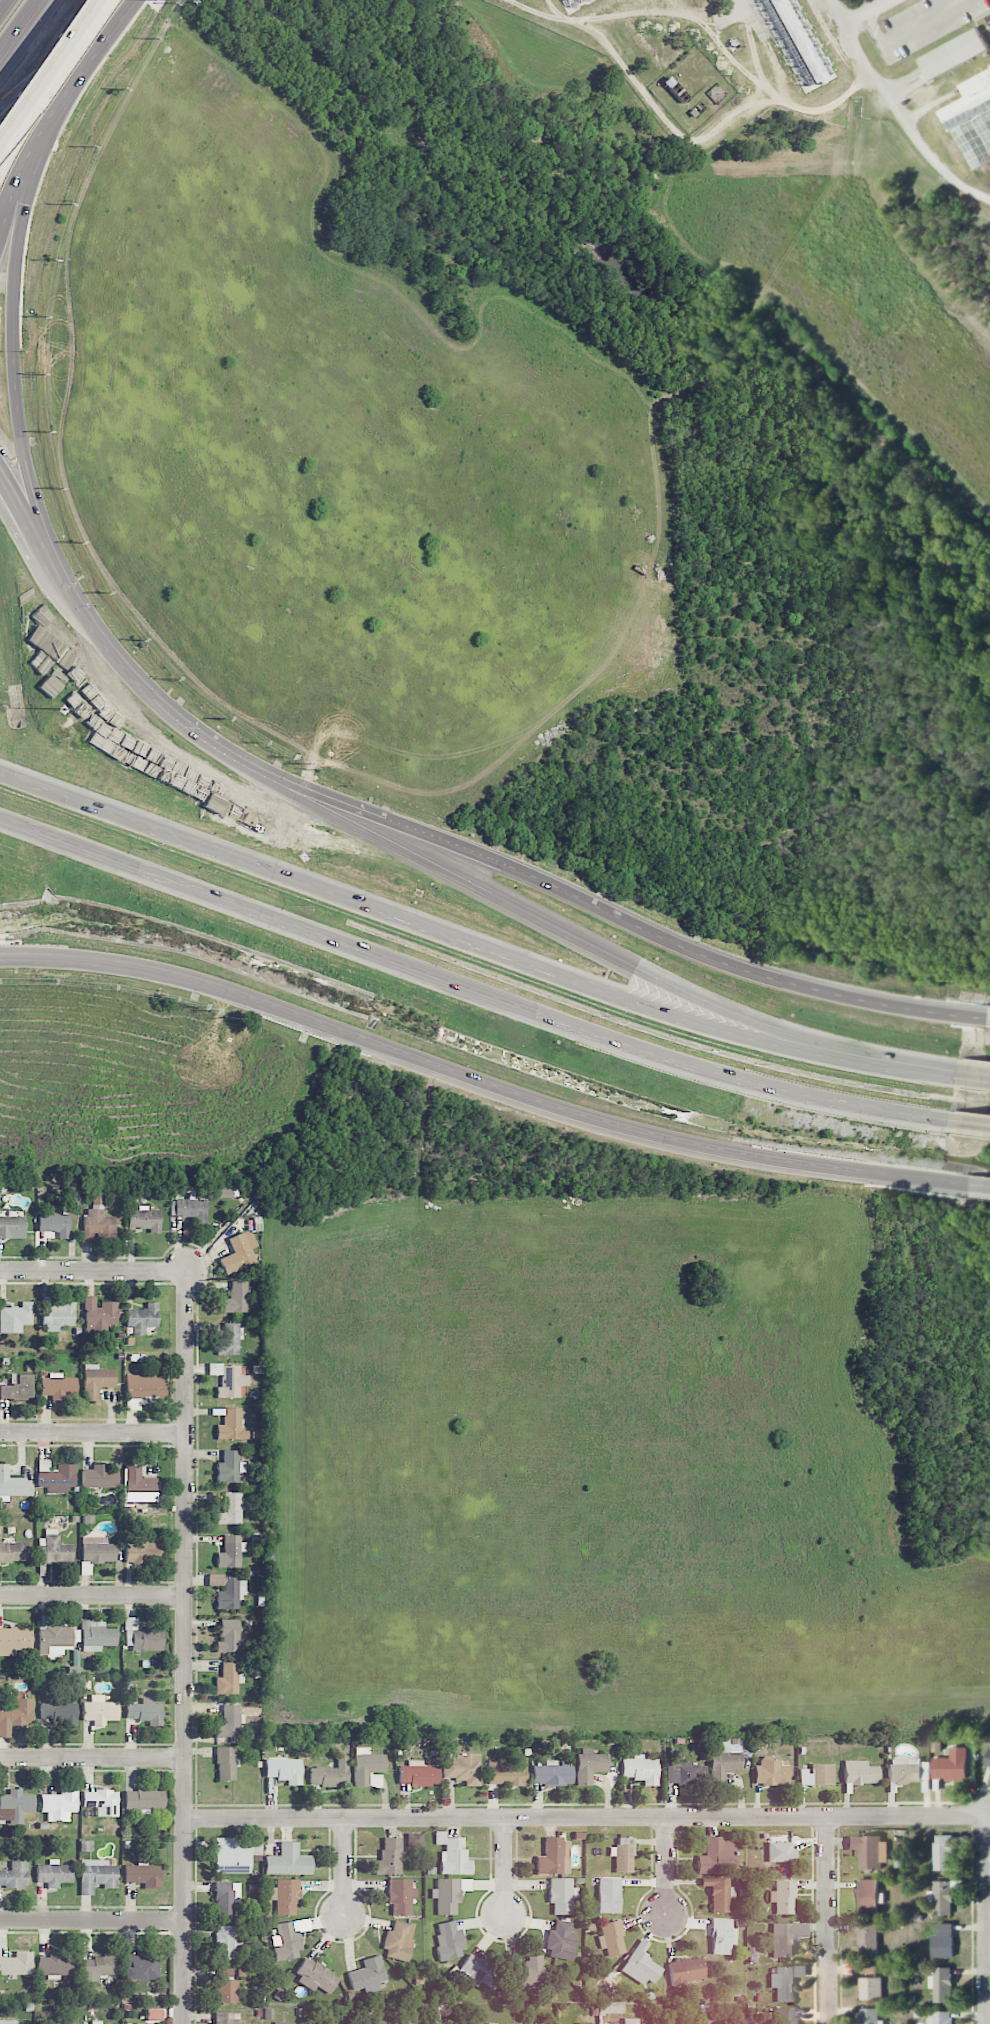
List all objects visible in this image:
road: (1, 1)
building: (572, 2)
street lamp: (155, 4)
road: (597, 10)
road: (687, 11)
road: (867, 11)
road: (558, 12)
road: (731, 15)
building: (989, 17)
road: (694, 19)
parking lot: (922, 25)
road: (908, 28)
road: (21, 29)
building: (796, 40)
road: (779, 54)
building: (953, 54)
road: (43, 59)
building: (969, 98)
road: (54, 110)
road: (898, 113)
road: (679, 133)
building: (974, 134)
road: (17, 243)
road: (28, 473)
road: (12, 502)
road: (109, 647)
road: (623, 922)
road: (448, 936)
road: (581, 941)
road: (467, 990)
road: (989, 1018)
road: (928, 1071)
road: (970, 1074)
road: (479, 1083)
road: (968, 1124)
road: (978, 1189)
building: (224, 1193)
building: (74, 1201)
building: (191, 1209)
building: (144, 1219)
building: (97, 1221)
building: (54, 1222)
building: (12, 1228)
building: (239, 1252)
road: (93, 1269)
building: (236, 1298)
building: (99, 1314)
building: (57, 1315)
building: (15, 1317)
building: (142, 1318)
building: (229, 1340)
building: (228, 1379)
building: (96, 1380)
building: (58, 1386)
building: (17, 1387)
building: (143, 1389)
building: (231, 1425)
road: (93, 1432)
building: (230, 1467)
building: (56, 1477)
building: (99, 1477)
building: (12, 1484)
building: (139, 1485)
building: (230, 1509)
building: (53, 1549)
building: (142, 1550)
building: (13, 1552)
building: (230, 1552)
building: (227, 1590)
road: (93, 1594)
building: (141, 1635)
building: (96, 1636)
building: (229, 1636)
building: (14, 1640)
building: (54, 1641)
road: (185, 1646)
building: (228, 1679)
building: (99, 1710)
building: (144, 1711)
building: (59, 1712)
building: (15, 1715)
building: (230, 1721)
road: (92, 1756)
building: (724, 1757)
building: (988, 1760)
building: (226, 1763)
building: (589, 1765)
building: (954, 1765)
building: (368, 1767)
building: (462, 1768)
building: (639, 1769)
building: (284, 1770)
building: (506, 1771)
building: (904, 1771)
building: (684, 1772)
building: (771, 1772)
building: (859, 1772)
building: (328, 1773)
building: (418, 1774)
building: (551, 1774)
building: (816, 1774)
building: (144, 1799)
building: (101, 1802)
building: (59, 1804)
building: (15, 1805)
road: (587, 1817)
building: (415, 1840)
building: (780, 1851)
building: (870, 1851)
building: (942, 1853)
building: (453, 1854)
building: (622, 1855)
building: (233, 1856)
building: (717, 1856)
building: (389, 1857)
building: (554, 1857)
building: (288, 1861)
road: (667, 1865)
road: (506, 1867)
road: (344, 1868)
building: (53, 1873)
building: (14, 1874)
building: (143, 1874)
building: (96, 1875)
building: (718, 1893)
building: (449, 1894)
building: (401, 1895)
building: (561, 1895)
building: (608, 1895)
building: (285, 1896)
building: (868, 1896)
building: (783, 1897)
building: (226, 1898)
building: (942, 1898)
road: (92, 1919)
road: (988, 1919)
road: (829, 1920)
building: (722, 1936)
building: (611, 1938)
building: (786, 1938)
building: (867, 1939)
building: (398, 1940)
building: (448, 1940)
building: (226, 1941)
building: (561, 1941)
building: (287, 1942)
building: (942, 1942)
building: (17, 1964)
building: (56, 1965)
building: (641, 1965)
building: (100, 1966)
building: (140, 1966)
building: (868, 1969)
building: (686, 1970)
building: (479, 1971)
building: (527, 1973)
building: (367, 1975)
building: (315, 1977)
building: (786, 1981)
building: (941, 1985)
building: (226, 1986)
building: (870, 1989)
road: (989, 2012)
building: (784, 2016)
building: (869, 2016)
building: (940, 2017)
building: (226, 2018)
building: (630, 2021)
building: (7, 2022)
building: (96, 2022)
building: (328, 2022)
building: (408, 2022)
building: (62, 2023)
building: (142, 2023)
building: (280, 2023)
building: (492, 2023)

